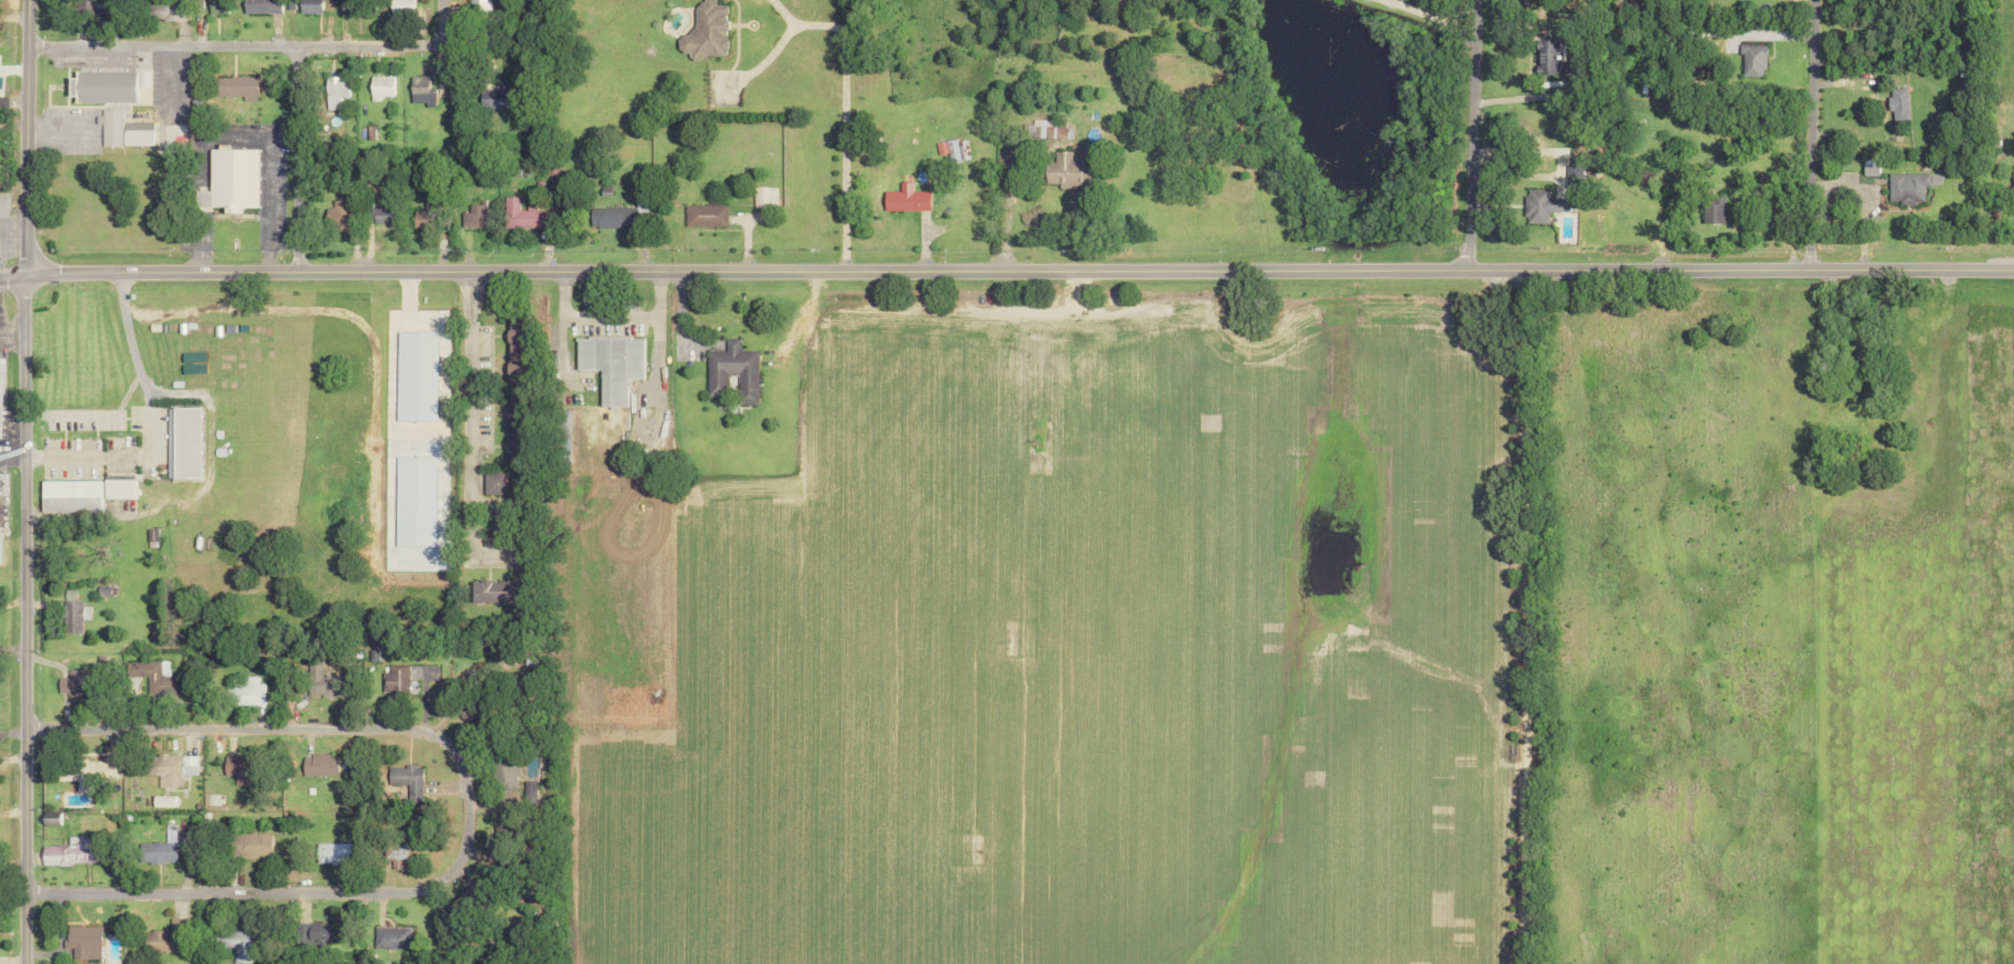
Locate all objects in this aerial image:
building: (399, 4)
building: (476, 4)
building: (259, 6)
building: (307, 6)
building: (347, 6)
building: (215, 7)
building: (163, 10)
road: (1426, 14)
road: (12, 15)
road: (436, 21)
building: (706, 31)
road: (266, 43)
building: (1547, 56)
building: (1751, 59)
building: (104, 85)
building: (234, 87)
building: (379, 87)
building: (332, 90)
building: (419, 91)
road: (1515, 95)
building: (492, 96)
road: (11, 99)
building: (1898, 104)
road: (838, 114)
building: (109, 126)
building: (135, 133)
road: (1804, 134)
road: (1464, 135)
road: (22, 137)
building: (951, 149)
road: (292, 156)
building: (1066, 167)
road: (1506, 170)
building: (1570, 175)
building: (2012, 176)
building: (1641, 177)
building: (227, 179)
building: (1905, 187)
building: (762, 197)
building: (903, 199)
building: (1541, 206)
building: (1714, 211)
building: (338, 215)
building: (522, 215)
building: (704, 215)
building: (382, 216)
building: (472, 216)
building: (419, 217)
building: (611, 217)
road: (999, 224)
road: (1017, 270)
road: (10, 276)
road: (609, 318)
road: (10, 337)
building: (515, 352)
building: (610, 364)
building: (731, 372)
road: (468, 411)
road: (69, 415)
building: (562, 418)
road: (150, 424)
building: (514, 430)
building: (185, 442)
building: (492, 483)
building: (117, 489)
building: (69, 496)
building: (152, 535)
building: (495, 591)
building: (73, 612)
road: (1519, 613)
road: (22, 620)
building: (431, 672)
building: (151, 675)
building: (398, 678)
building: (322, 682)
building: (73, 683)
building: (246, 693)
building: (319, 765)
building: (235, 768)
building: (169, 769)
building: (85, 772)
building: (506, 775)
building: (407, 783)
building: (162, 801)
road: (464, 809)
building: (251, 844)
building: (158, 849)
building: (73, 852)
building: (332, 853)
building: (394, 855)
road: (12, 876)
building: (467, 900)
building: (391, 937)
building: (164, 938)
building: (84, 942)
building: (234, 943)

